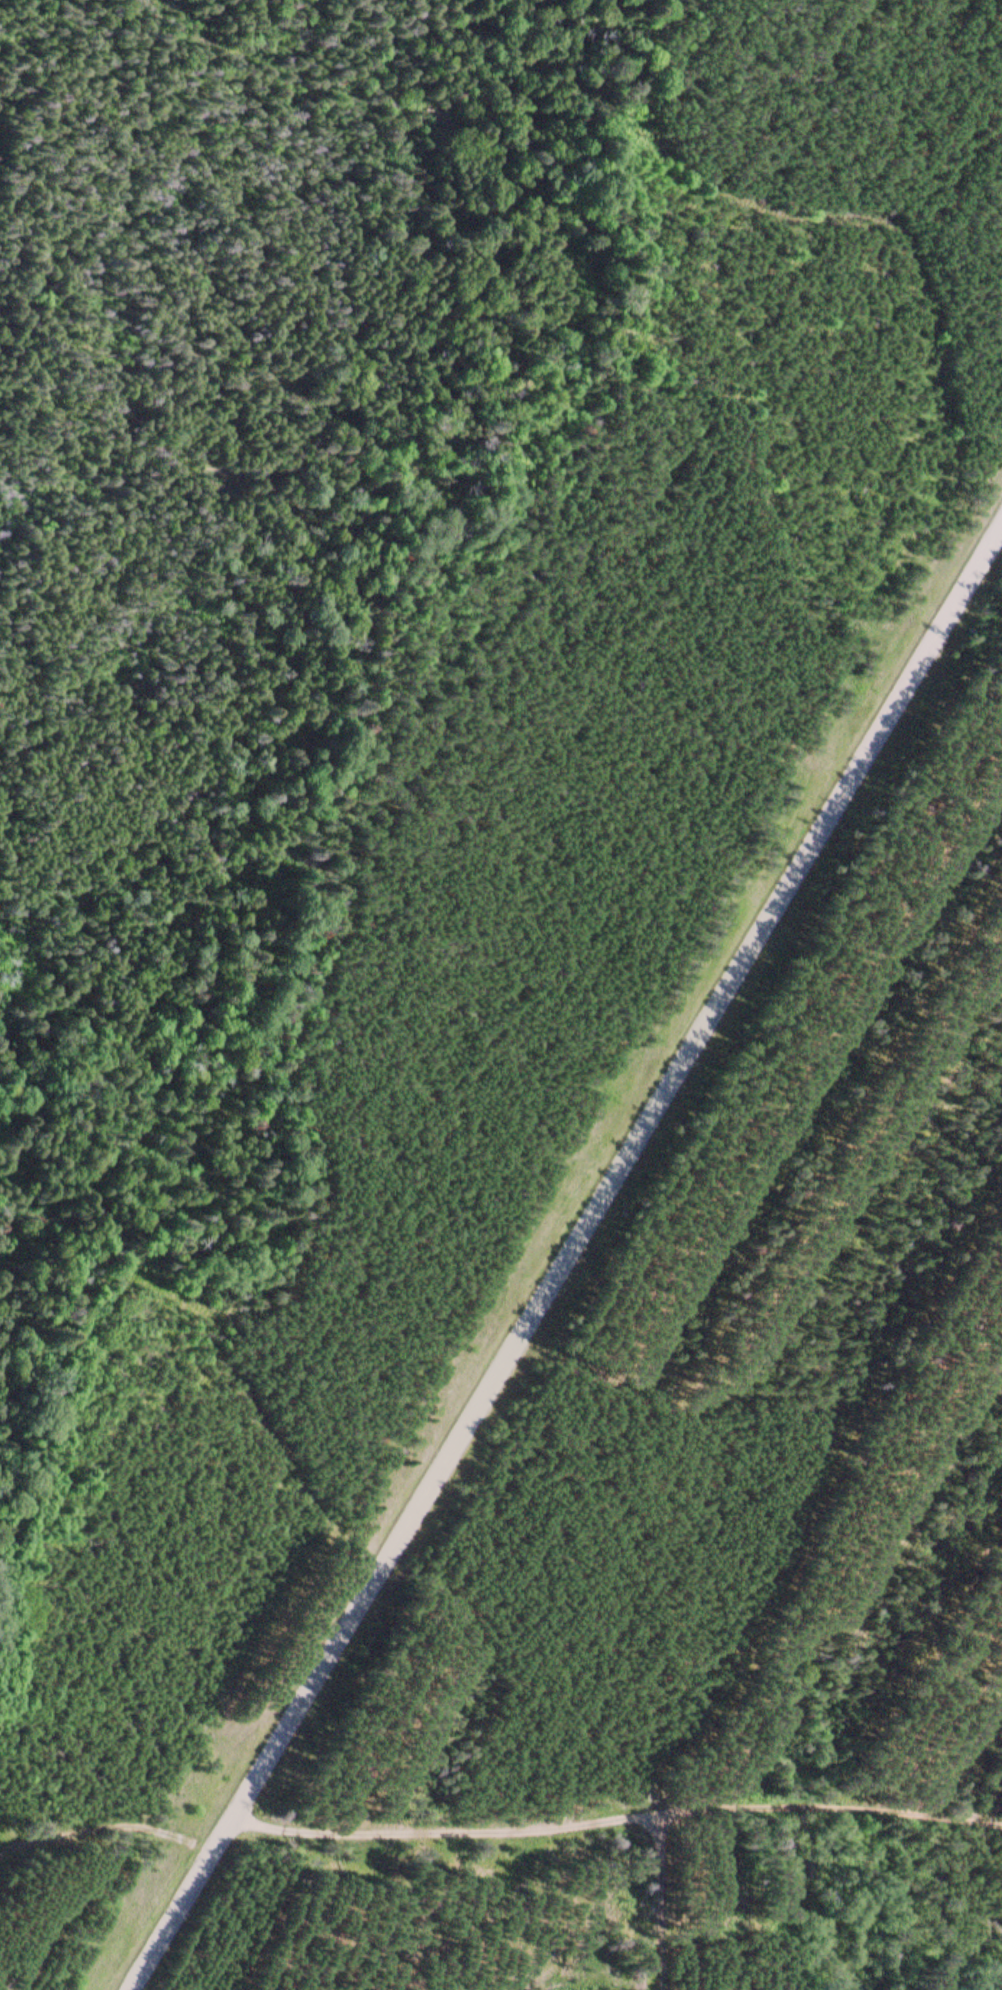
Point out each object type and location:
road: (335, 804)
road: (566, 1259)
road: (617, 1818)

